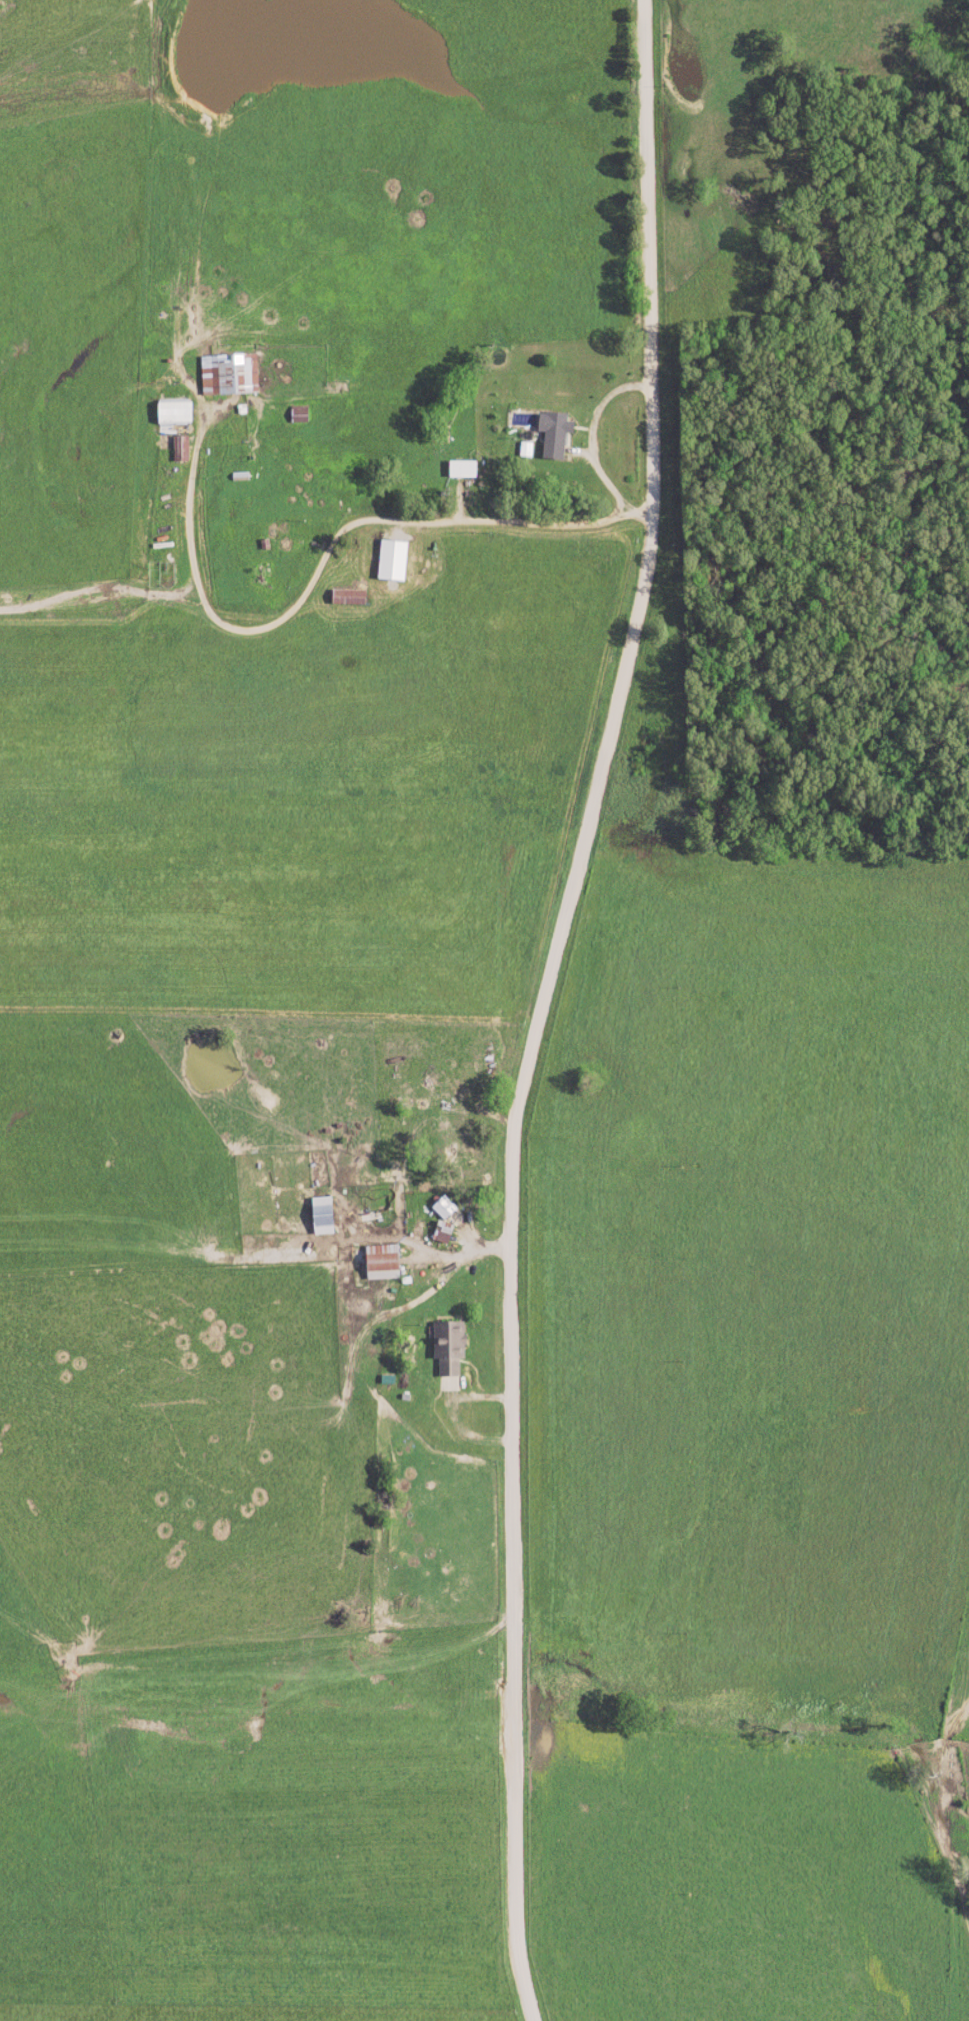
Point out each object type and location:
building: (171, 413)
building: (552, 434)
road: (594, 444)
building: (461, 470)
road: (327, 553)
building: (392, 561)
building: (347, 598)
road: (539, 1006)
building: (442, 1208)
building: (320, 1215)
building: (441, 1234)
building: (380, 1262)
building: (448, 1346)
road: (446, 1412)

